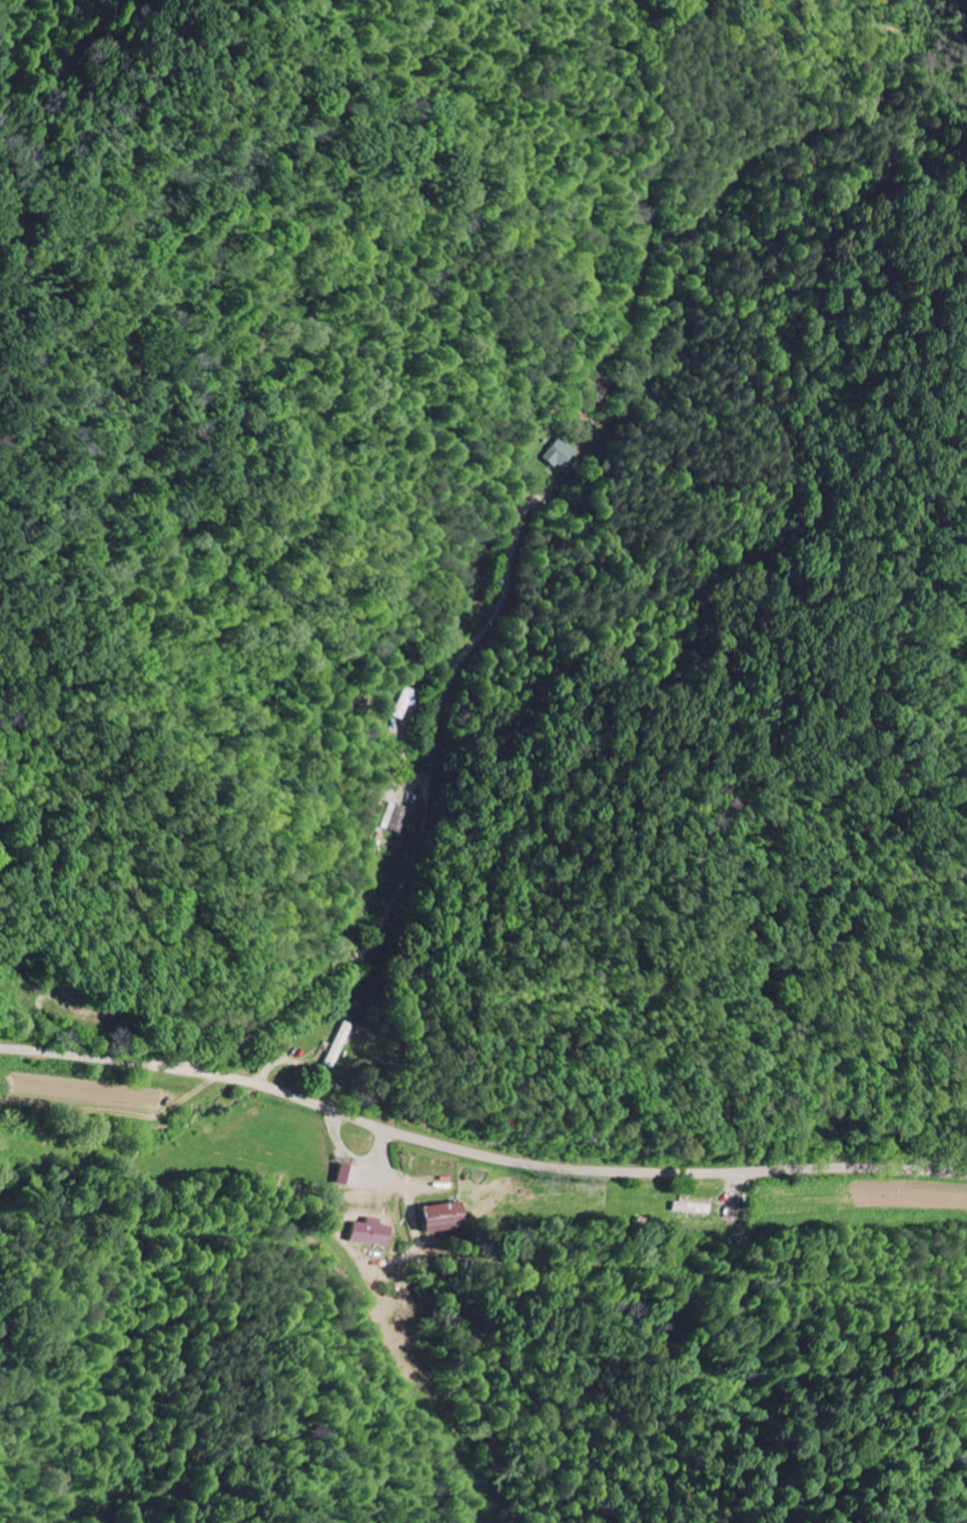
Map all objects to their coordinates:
building: (557, 455)
road: (422, 825)
road: (477, 1156)
building: (348, 1175)
building: (692, 1208)
building: (443, 1217)
building: (372, 1232)

